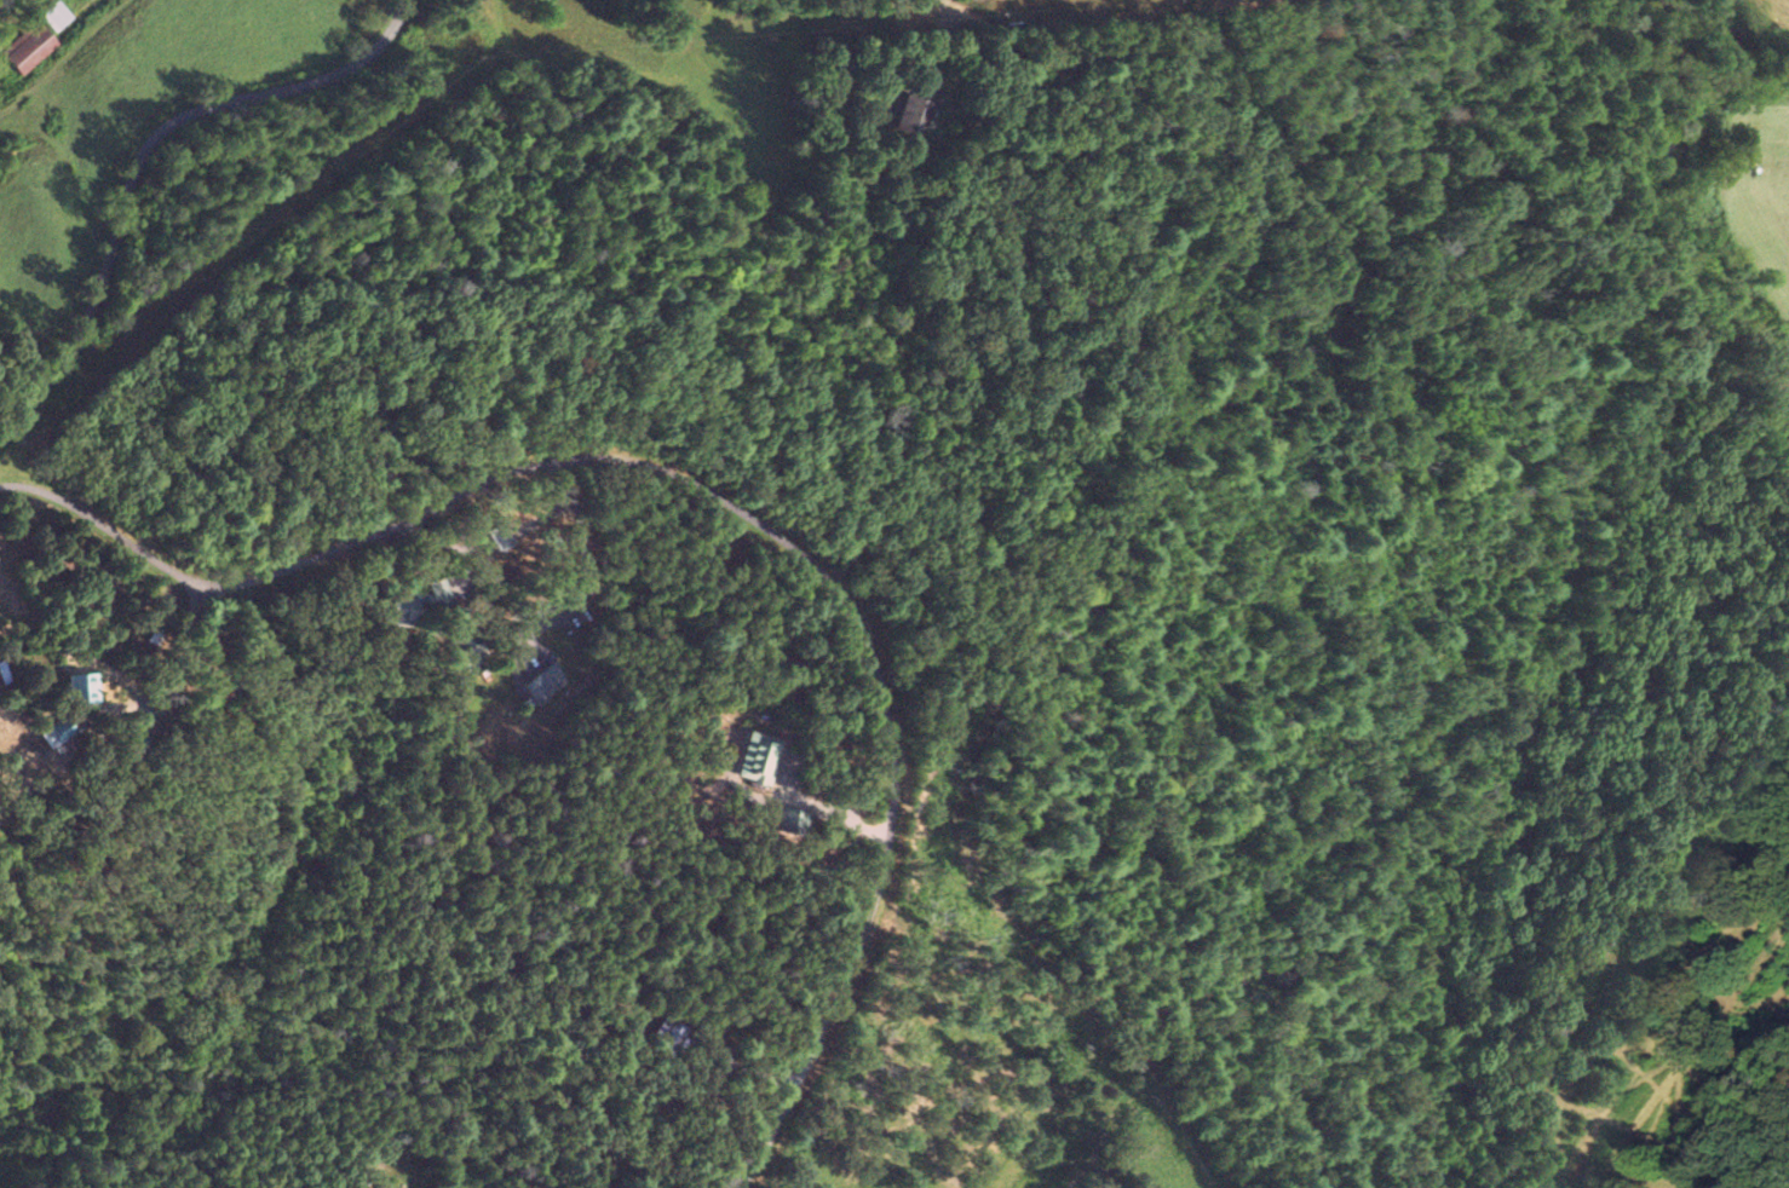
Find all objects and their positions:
building: (54, 16)
building: (30, 47)
building: (914, 117)
road: (140, 145)
road: (718, 492)
building: (501, 538)
building: (439, 593)
building: (404, 611)
building: (545, 685)
building: (90, 690)
building: (67, 731)
building: (760, 760)
building: (796, 823)
building: (673, 1033)

